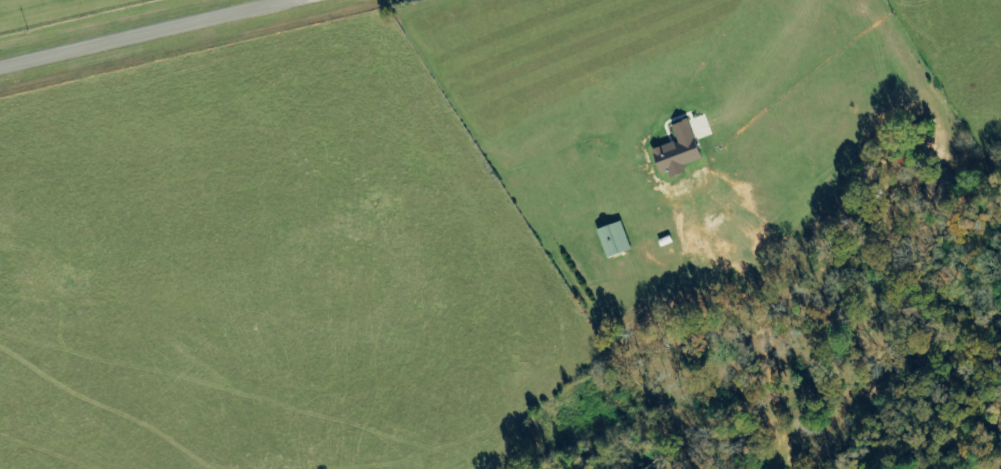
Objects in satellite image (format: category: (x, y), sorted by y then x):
road: (147, 34)
building: (680, 151)

